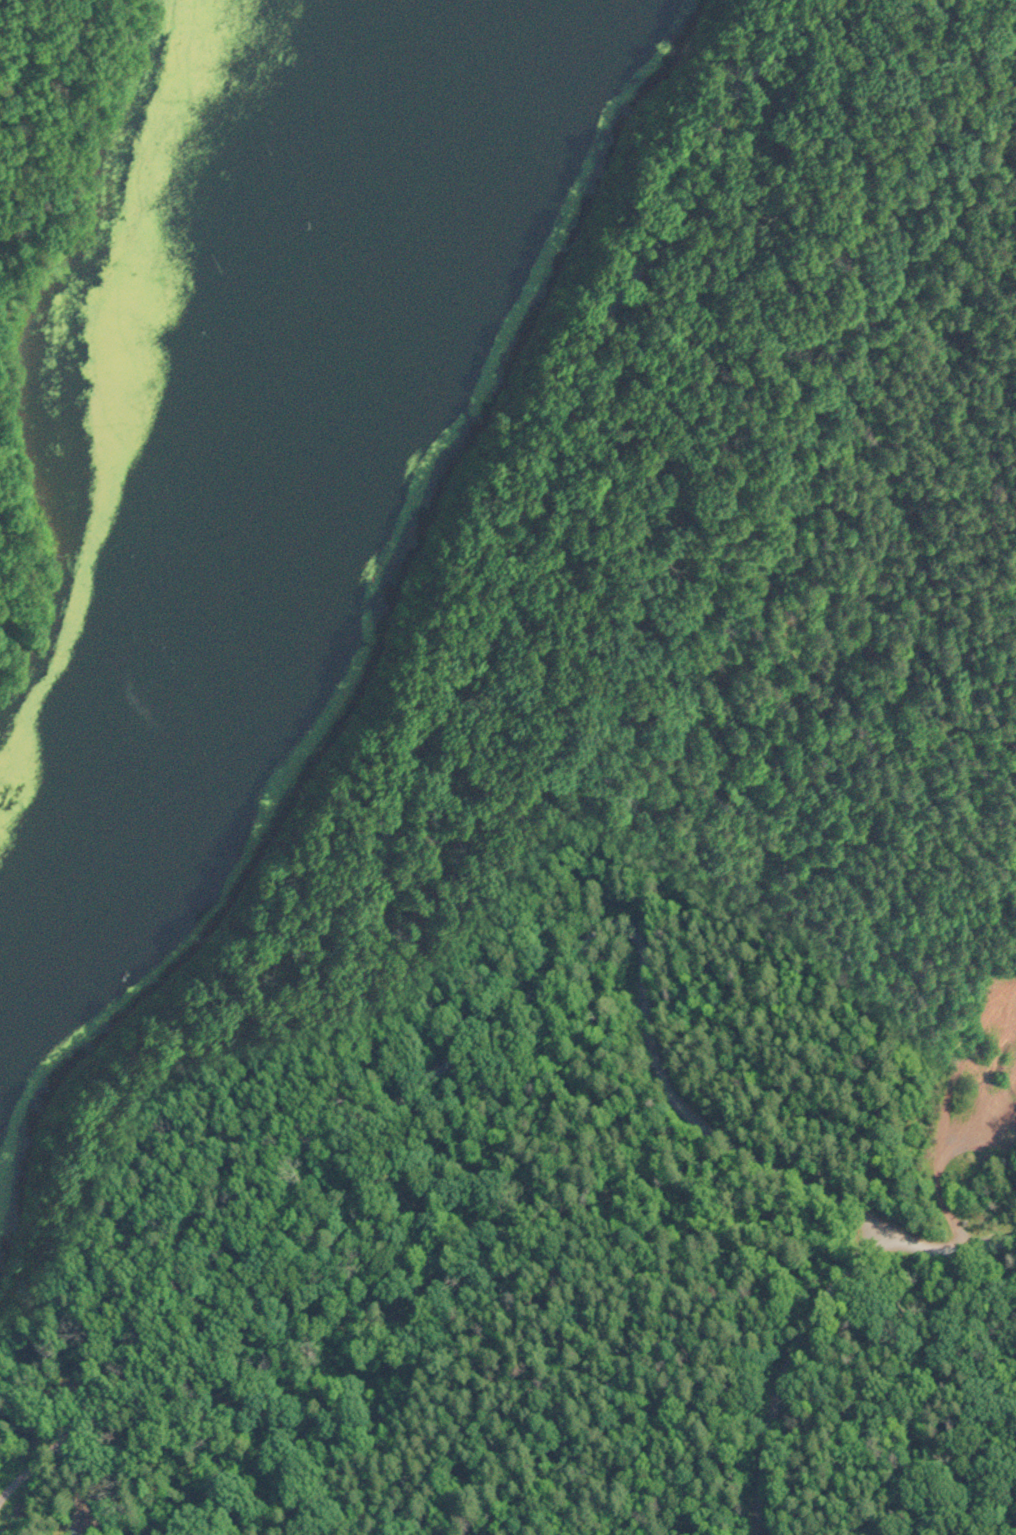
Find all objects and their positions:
road: (375, 899)
road: (955, 1254)
road: (785, 1365)

